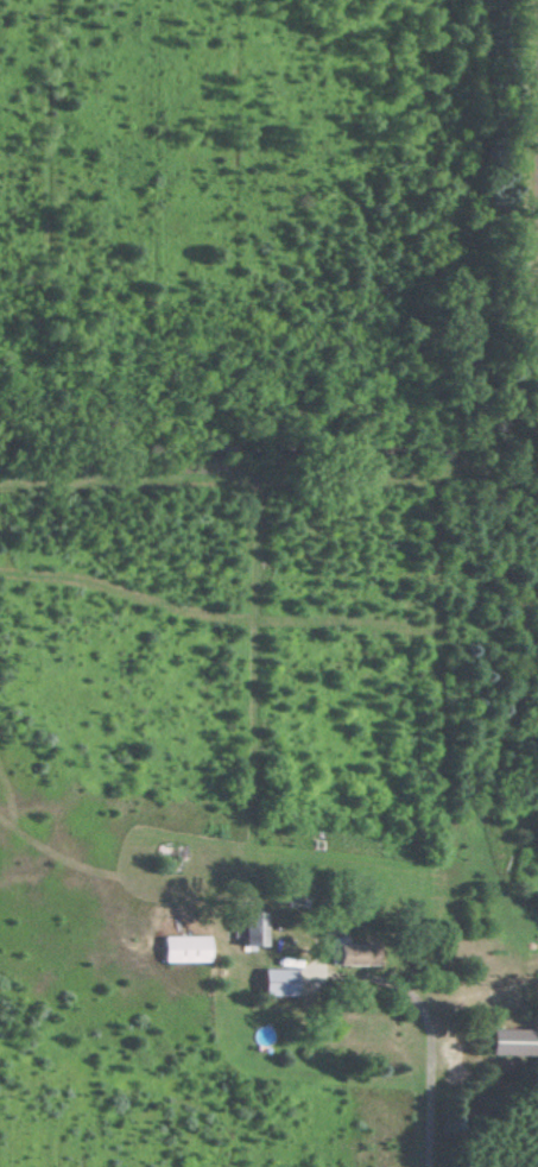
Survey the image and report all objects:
building: (241, 932)
building: (176, 950)
building: (336, 954)
building: (270, 983)
road: (426, 1036)

